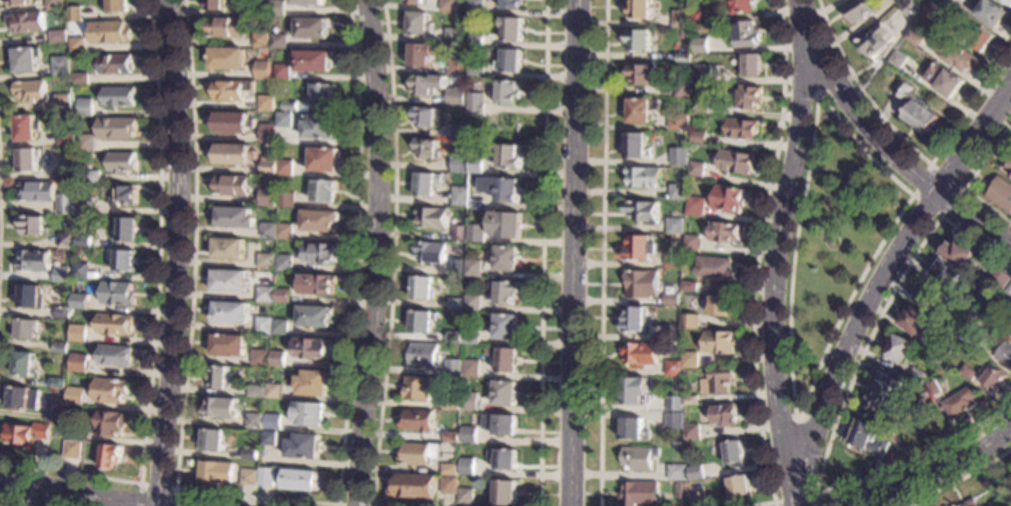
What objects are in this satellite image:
building: (946, 0)
building: (1008, 1)
building: (413, 2)
building: (16, 3)
building: (305, 3)
building: (52, 4)
building: (213, 5)
building: (511, 5)
building: (115, 6)
building: (446, 6)
building: (740, 6)
building: (475, 7)
building: (275, 8)
building: (907, 8)
building: (858, 9)
building: (641, 10)
building: (254, 11)
building: (930, 11)
building: (991, 13)
building: (73, 14)
building: (698, 16)
building: (680, 19)
building: (26, 23)
building: (417, 24)
building: (223, 27)
building: (310, 28)
building: (511, 29)
building: (108, 33)
building: (744, 35)
building: (452, 36)
building: (57, 37)
building: (912, 38)
building: (981, 39)
building: (259, 40)
building: (476, 40)
building: (874, 40)
building: (278, 41)
building: (639, 41)
building: (699, 45)
building: (76, 46)
building: (954, 54)
building: (420, 55)
building: (683, 57)
building: (226, 59)
building: (896, 59)
building: (25, 60)
building: (312, 61)
building: (509, 61)
building: (115, 64)
building: (750, 65)
building: (60, 66)
building: (456, 67)
building: (475, 68)
building: (261, 70)
building: (281, 72)
building: (701, 73)
building: (641, 75)
building: (80, 79)
building: (942, 80)
building: (426, 85)
building: (231, 89)
building: (682, 89)
building: (31, 92)
road: (818, 92)
building: (507, 93)
building: (320, 94)
building: (117, 96)
building: (454, 97)
building: (748, 98)
building: (62, 102)
building: (475, 103)
building: (699, 103)
building: (264, 104)
building: (288, 105)
building: (912, 108)
building: (641, 110)
building: (82, 112)
building: (425, 117)
building: (283, 120)
building: (677, 122)
building: (232, 123)
building: (318, 126)
building: (26, 128)
building: (116, 128)
building: (741, 129)
building: (458, 131)
building: (266, 133)
building: (66, 137)
building: (697, 137)
building: (85, 143)
road: (906, 144)
building: (636, 147)
building: (425, 148)
building: (233, 154)
building: (506, 156)
building: (677, 156)
road: (895, 156)
building: (27, 159)
building: (322, 160)
building: (120, 162)
building: (733, 162)
building: (458, 164)
building: (267, 165)
building: (66, 167)
building: (284, 167)
building: (475, 167)
building: (1007, 168)
building: (695, 169)
building: (643, 178)
road: (969, 178)
building: (89, 180)
building: (424, 185)
building: (231, 186)
road: (959, 187)
building: (501, 189)
building: (323, 191)
building: (36, 192)
building: (677, 192)
building: (1000, 194)
building: (123, 196)
building: (458, 196)
building: (266, 197)
building: (285, 200)
building: (727, 200)
building: (65, 204)
building: (85, 206)
building: (694, 206)
building: (642, 212)
building: (234, 218)
building: (432, 218)
building: (319, 221)
building: (505, 224)
building: (674, 224)
building: (33, 226)
building: (126, 231)
building: (267, 231)
building: (284, 232)
building: (457, 233)
building: (476, 233)
building: (722, 233)
building: (65, 241)
building: (82, 241)
park: (832, 242)
building: (691, 243)
building: (639, 248)
building: (228, 249)
building: (319, 252)
building: (429, 252)
road: (178, 253)
road: (376, 253)
road: (393, 253)
road: (542, 253)
road: (576, 253)
road: (602, 253)
road: (776, 253)
building: (956, 254)
building: (505, 259)
building: (123, 260)
building: (672, 260)
building: (34, 261)
building: (265, 261)
building: (283, 263)
road: (756, 263)
building: (456, 267)
building: (473, 268)
building: (714, 269)
building: (80, 270)
road: (884, 273)
building: (943, 273)
building: (62, 277)
building: (1002, 280)
building: (228, 281)
building: (315, 284)
building: (641, 285)
building: (689, 287)
building: (421, 288)
building: (1008, 290)
building: (503, 292)
building: (118, 293)
building: (265, 294)
building: (282, 296)
building: (30, 297)
building: (930, 298)
building: (670, 299)
building: (80, 301)
building: (473, 303)
building: (455, 304)
building: (976, 305)
building: (721, 306)
building: (60, 312)
building: (230, 312)
road: (156, 314)
building: (315, 317)
building: (994, 319)
building: (635, 320)
building: (913, 320)
building: (421, 321)
building: (689, 322)
building: (115, 324)
building: (264, 326)
building: (280, 327)
building: (503, 327)
building: (960, 327)
building: (26, 330)
building: (78, 333)
building: (671, 333)
building: (471, 336)
building: (453, 337)
building: (973, 339)
building: (719, 342)
building: (228, 345)
building: (59, 348)
building: (312, 349)
building: (898, 349)
building: (941, 351)
building: (641, 354)
building: (423, 355)
building: (1005, 355)
building: (116, 356)
building: (260, 358)
building: (277, 359)
building: (506, 360)
building: (690, 361)
building: (79, 363)
building: (23, 364)
building: (453, 368)
building: (470, 368)
building: (673, 368)
building: (967, 373)
building: (917, 375)
building: (219, 377)
building: (992, 377)
building: (716, 381)
building: (57, 383)
building: (313, 383)
building: (416, 388)
building: (933, 388)
road: (808, 389)
building: (111, 391)
building: (257, 391)
building: (273, 391)
building: (634, 391)
building: (881, 392)
building: (503, 393)
building: (76, 396)
building: (22, 398)
building: (690, 400)
building: (451, 402)
building: (960, 402)
building: (674, 403)
building: (468, 405)
building: (222, 408)
road: (839, 408)
building: (309, 414)
building: (54, 416)
building: (726, 416)
road: (795, 418)
building: (417, 420)
building: (272, 421)
building: (674, 421)
building: (255, 422)
building: (111, 423)
building: (500, 424)
building: (633, 430)
building: (71, 431)
building: (692, 432)
building: (26, 433)
building: (468, 434)
building: (450, 437)
building: (868, 437)
building: (269, 439)
building: (214, 440)
building: (304, 447)
building: (71, 448)
building: (733, 453)
building: (249, 454)
building: (415, 454)
building: (111, 456)
building: (637, 458)
building: (502, 459)
building: (467, 466)
building: (449, 470)
building: (695, 472)
building: (218, 473)
building: (677, 473)
building: (249, 476)
road: (930, 476)
building: (266, 477)
building: (300, 480)
road: (951, 480)
road: (156, 485)
building: (448, 485)
building: (413, 486)
building: (738, 486)
building: (680, 490)
road: (66, 493)
building: (505, 493)
building: (640, 494)
building: (464, 495)
building: (696, 495)
road: (798, 495)
road: (265, 496)
road: (913, 496)
road: (14, 502)
building: (970, 503)
road: (347, 504)
building: (959, 505)

